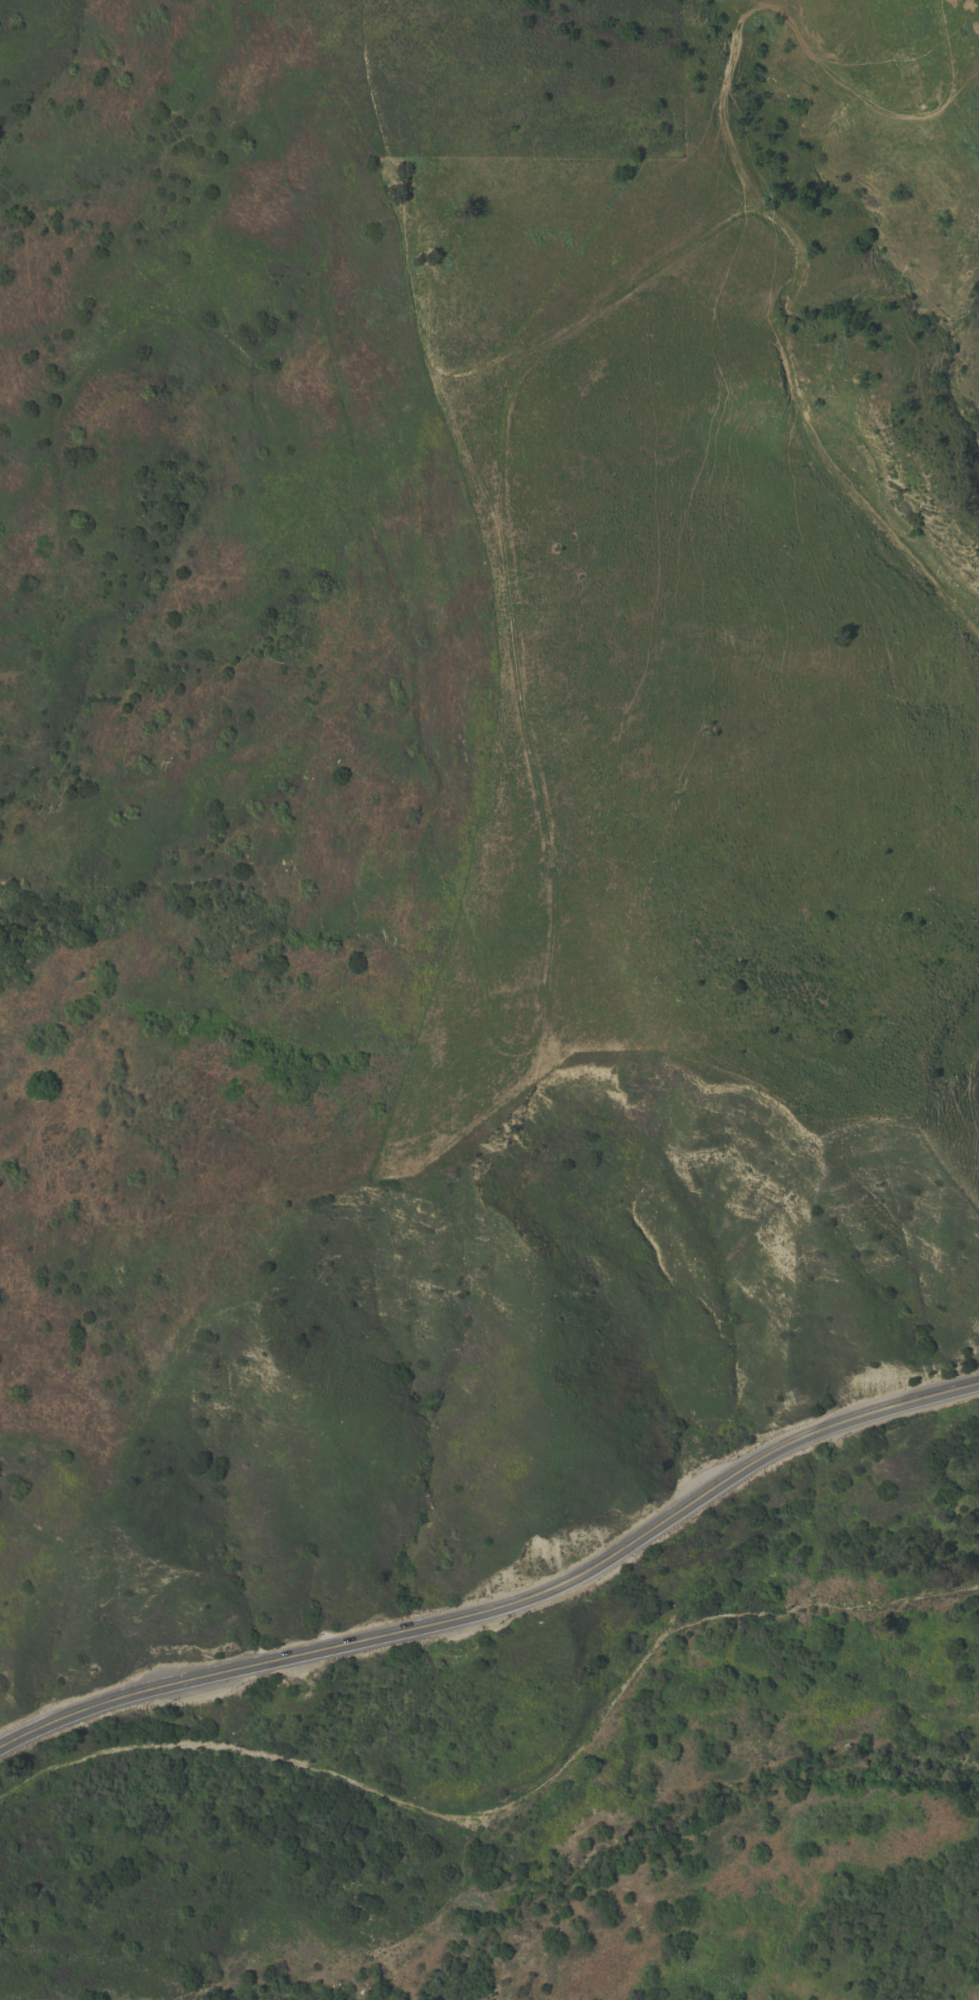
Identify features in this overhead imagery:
road: (742, 207)
road: (428, 365)
road: (505, 1608)
road: (519, 1800)

